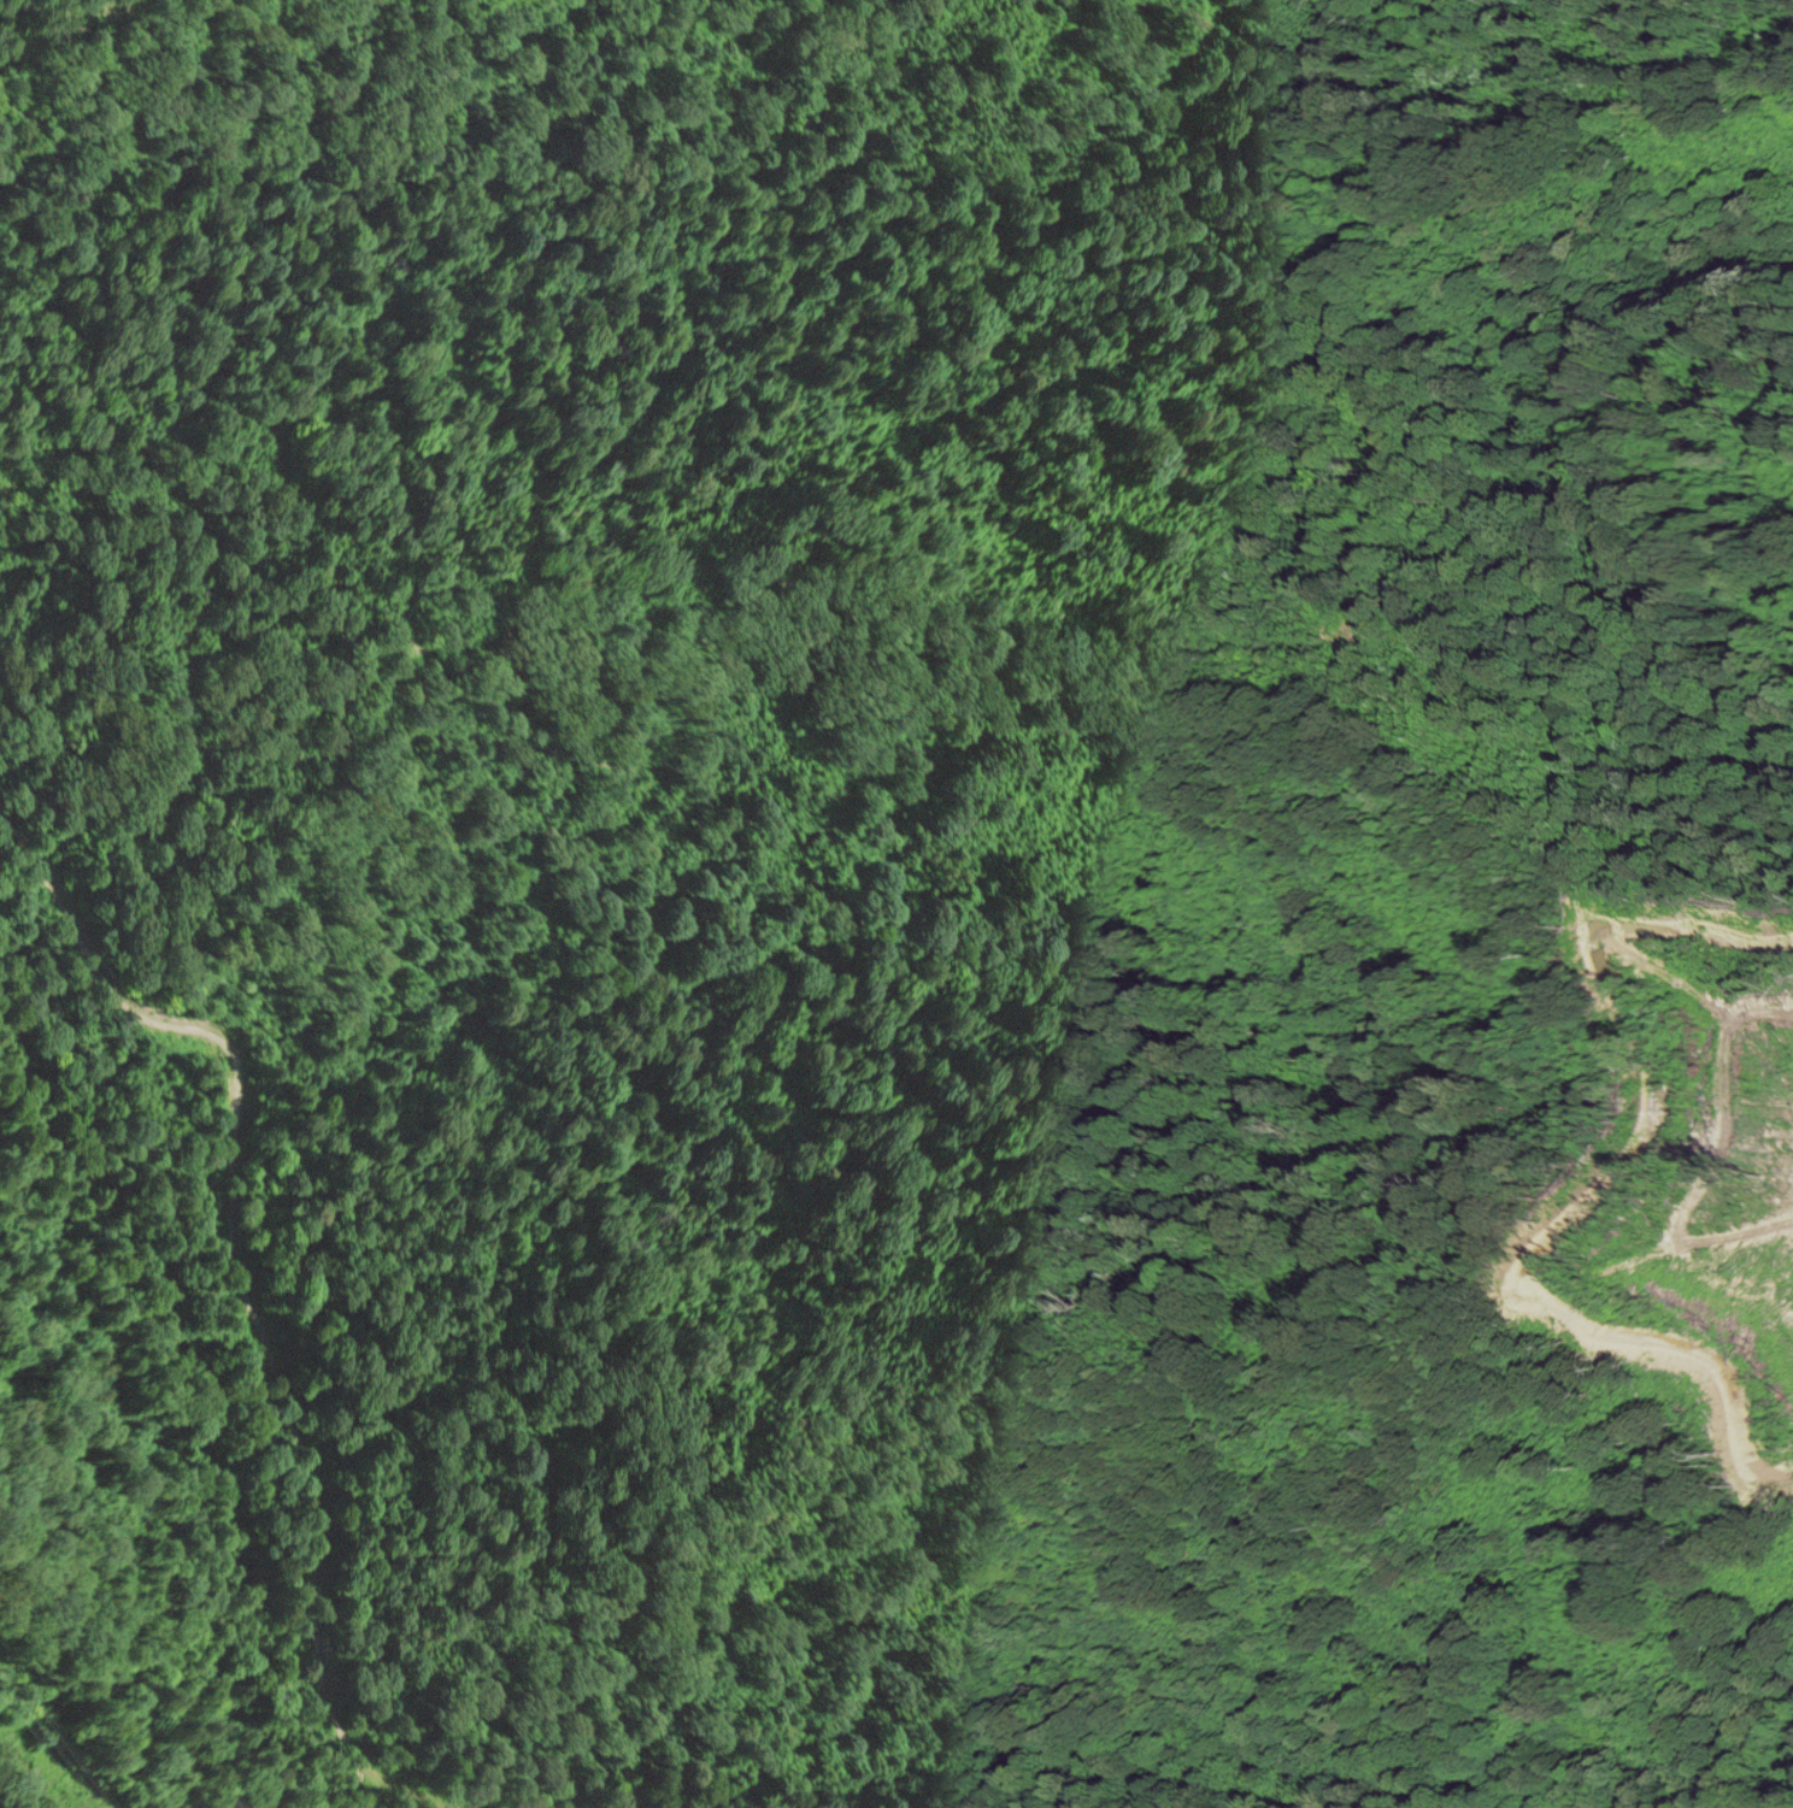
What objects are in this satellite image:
quarry: (1692, 1166)

